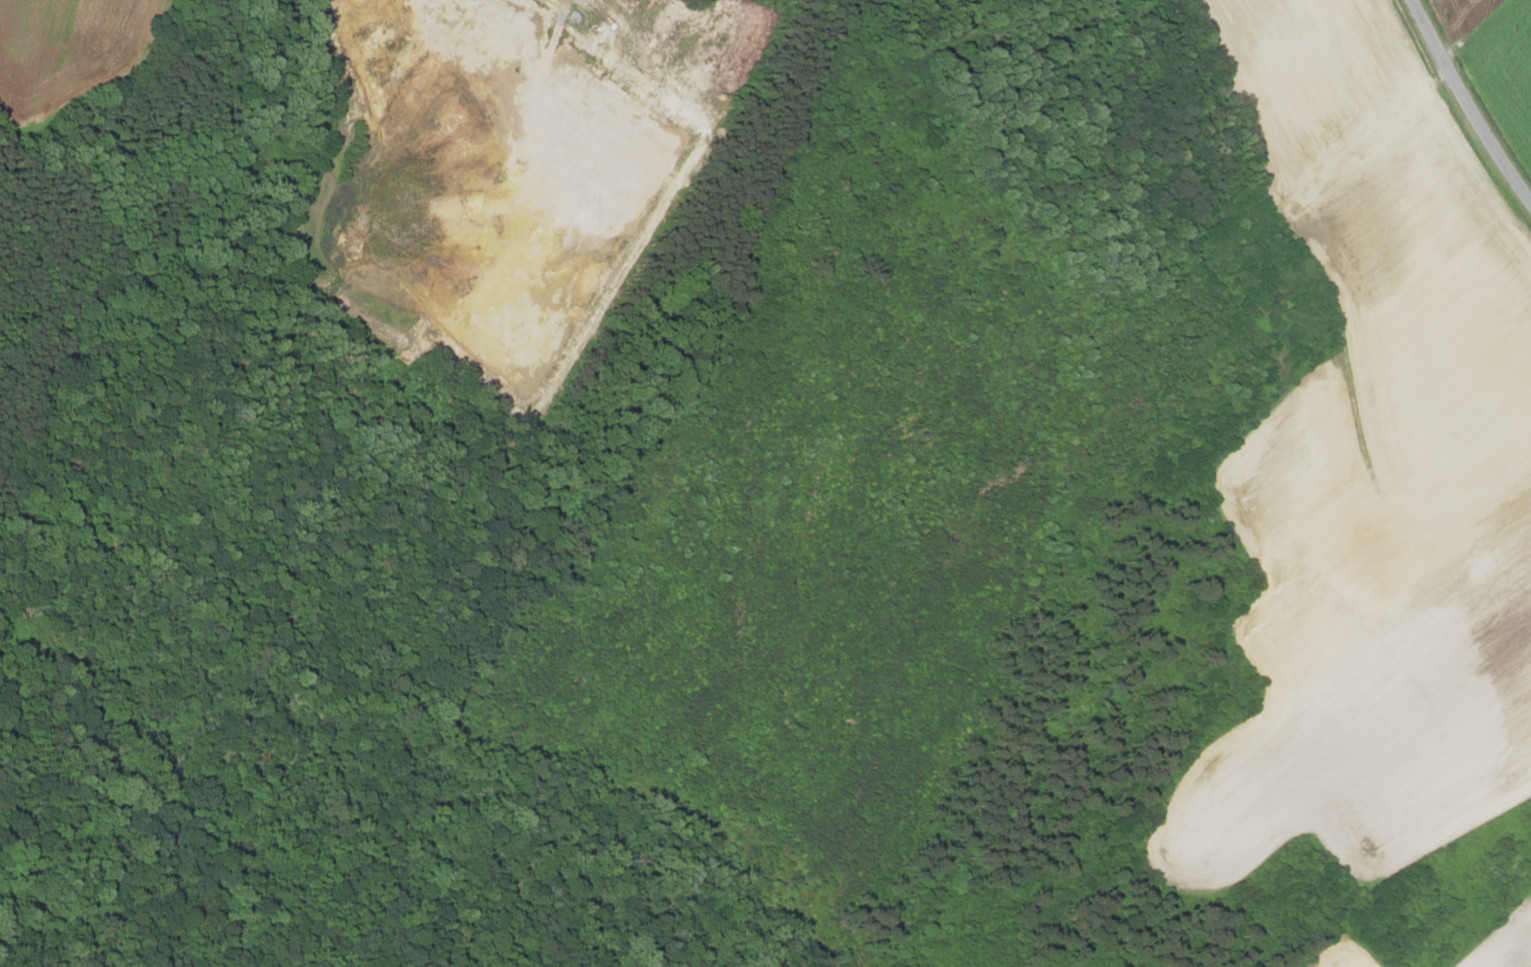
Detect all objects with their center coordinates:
road: (1456, 113)

